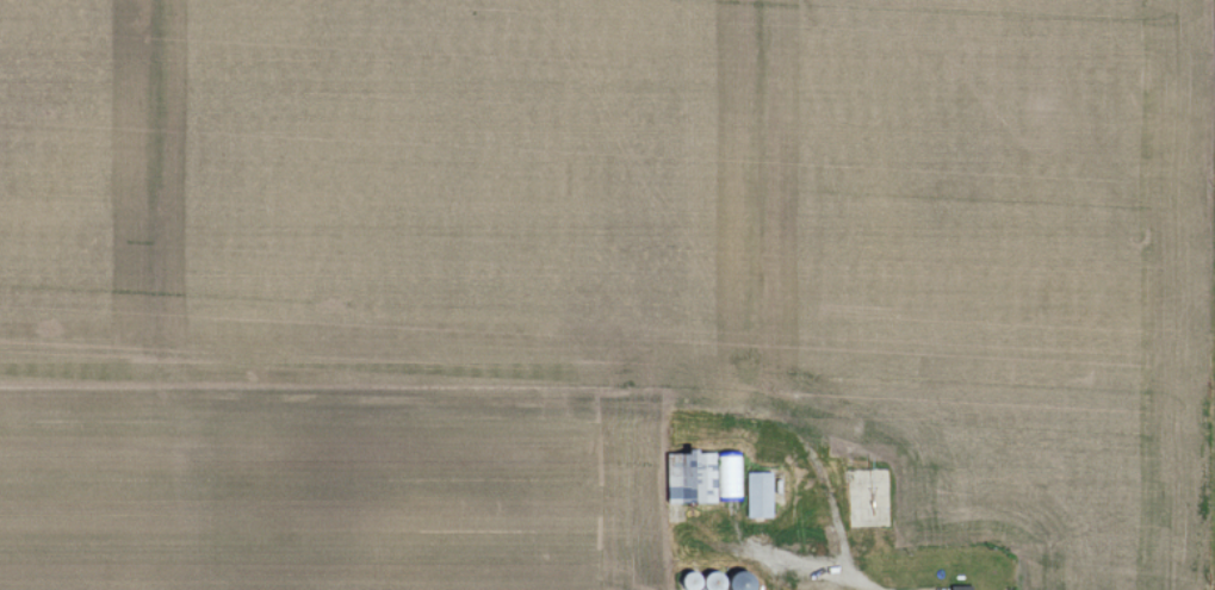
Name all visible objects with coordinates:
building: (757, 496)

